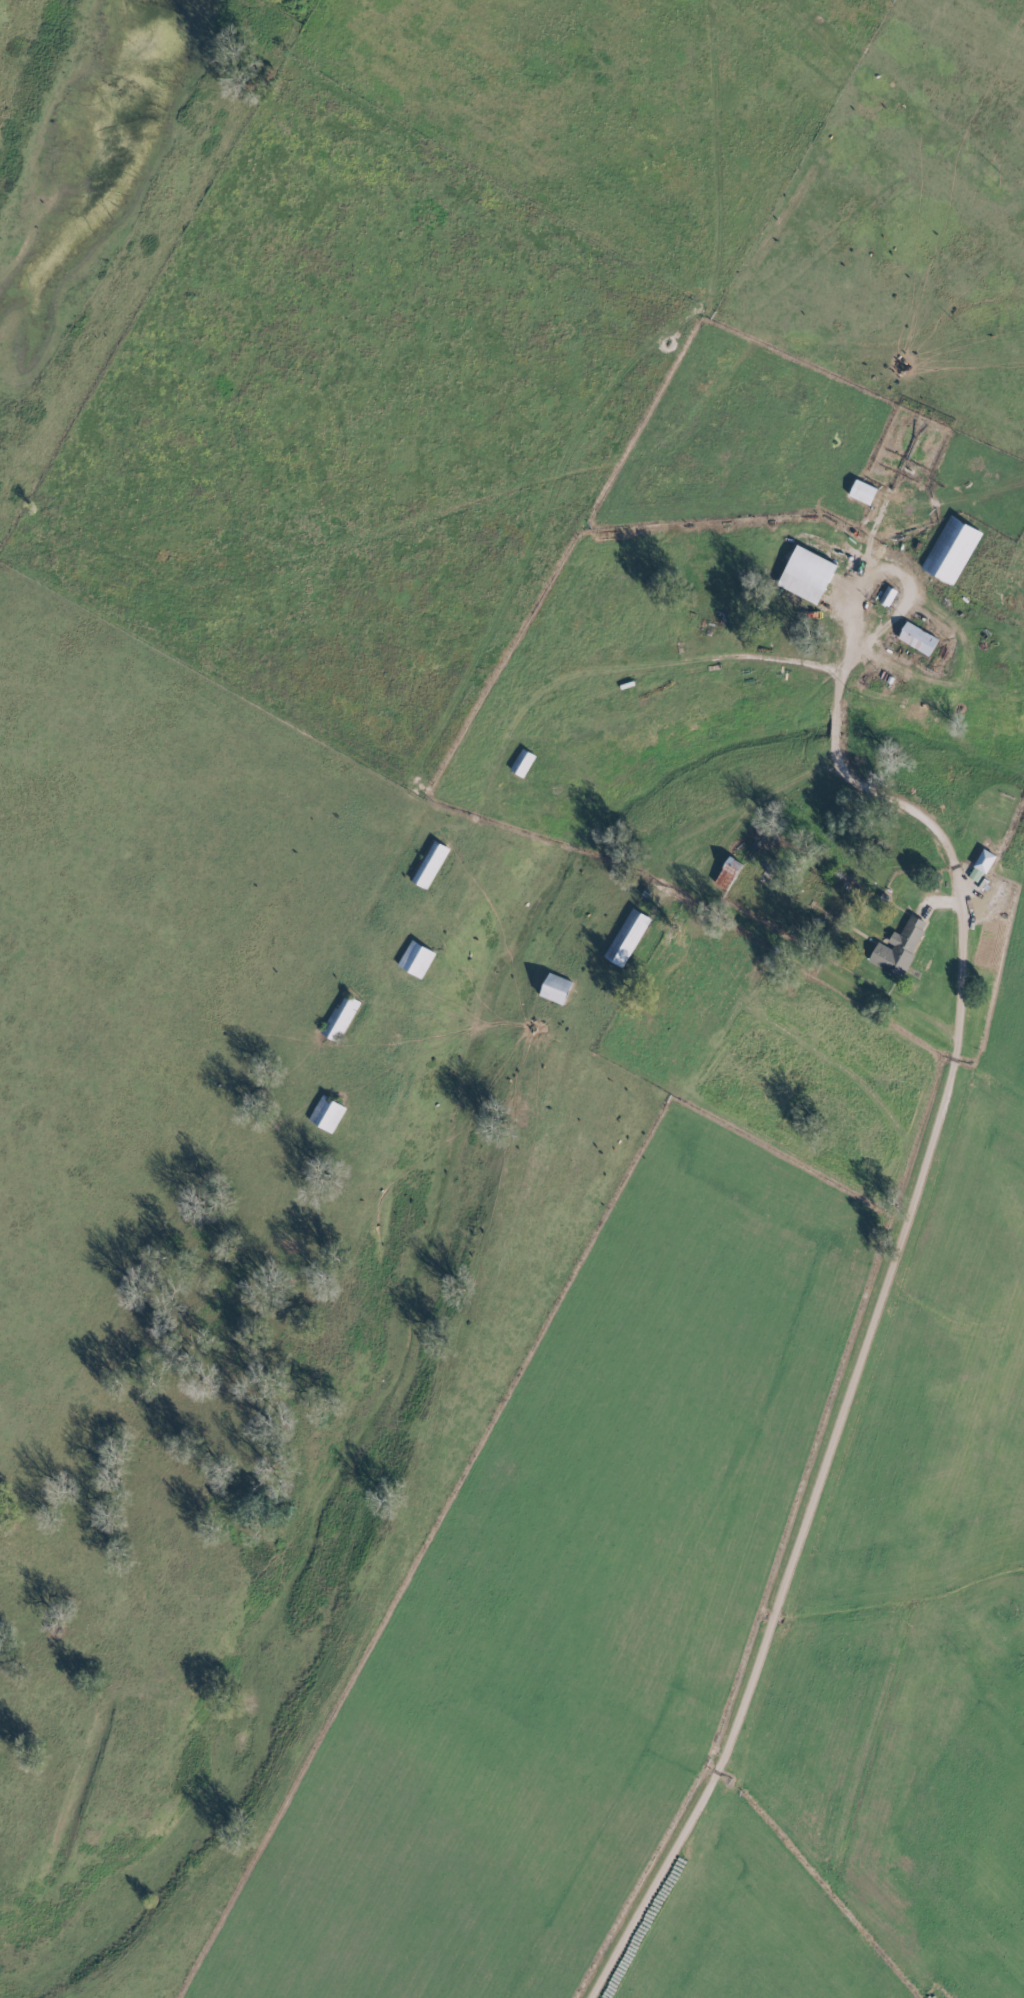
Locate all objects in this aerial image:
building: (861, 492)
building: (950, 549)
building: (806, 574)
building: (916, 638)
building: (521, 762)
road: (682, 834)
building: (428, 864)
building: (980, 866)
building: (626, 937)
building: (897, 948)
building: (414, 959)
building: (555, 989)
building: (338, 1017)
building: (325, 1113)
road: (878, 1310)

